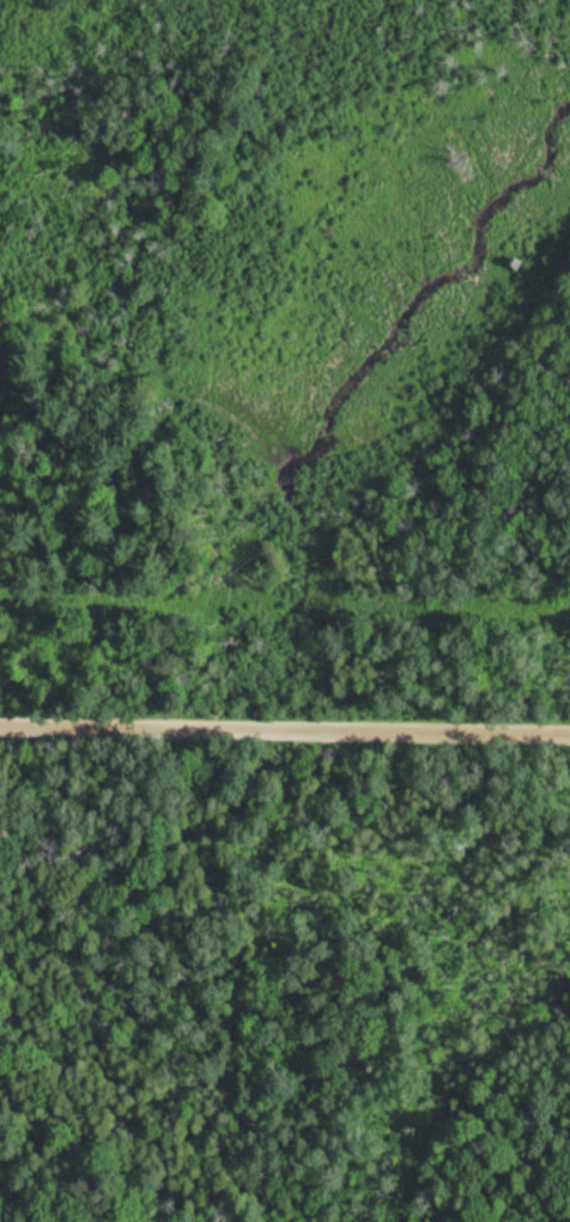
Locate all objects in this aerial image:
road: (285, 729)

